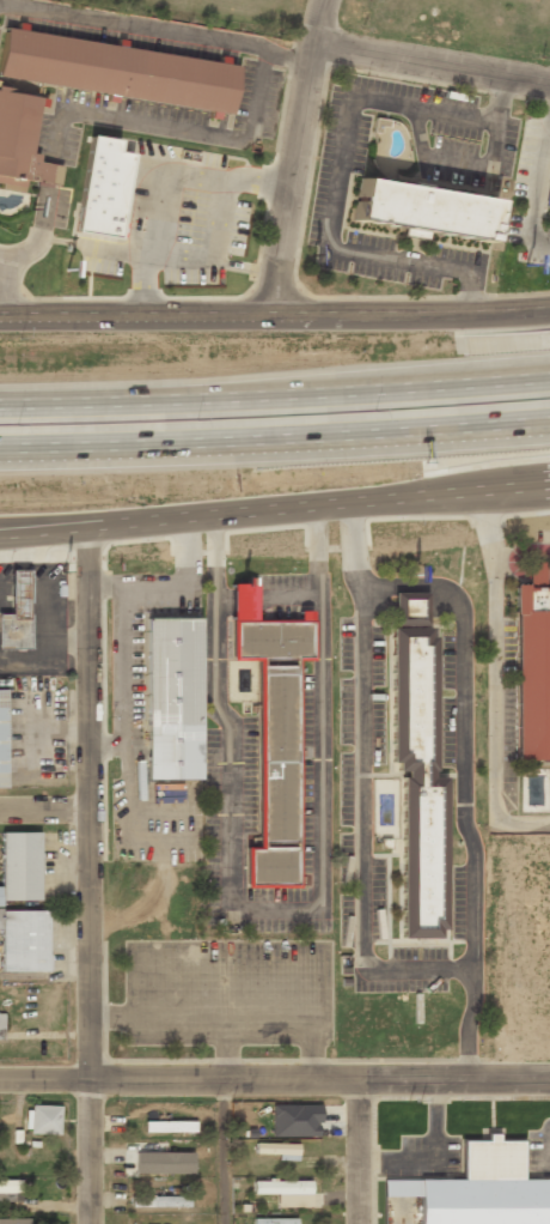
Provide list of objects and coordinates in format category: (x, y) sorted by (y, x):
road: (430, 60)
building: (117, 72)
building: (22, 143)
road: (294, 154)
building: (102, 187)
building: (544, 195)
building: (420, 211)
road: (6, 286)
road: (275, 314)
road: (275, 392)
road: (275, 440)
road: (375, 501)
road: (100, 515)
road: (100, 528)
building: (16, 614)
building: (532, 674)
road: (494, 681)
building: (171, 699)
building: (271, 733)
building: (2, 739)
building: (416, 776)
road: (462, 786)
road: (359, 792)
road: (45, 811)
road: (90, 877)
building: (20, 907)
building: (1, 1026)
road: (275, 1075)
building: (43, 1120)
building: (294, 1120)
building: (169, 1126)
road: (360, 1149)
road: (224, 1150)
building: (277, 1150)
building: (163, 1163)
building: (10, 1186)
building: (481, 1189)
building: (286, 1192)
building: (6, 1198)
building: (159, 1201)
building: (14, 1220)
building: (274, 1220)

